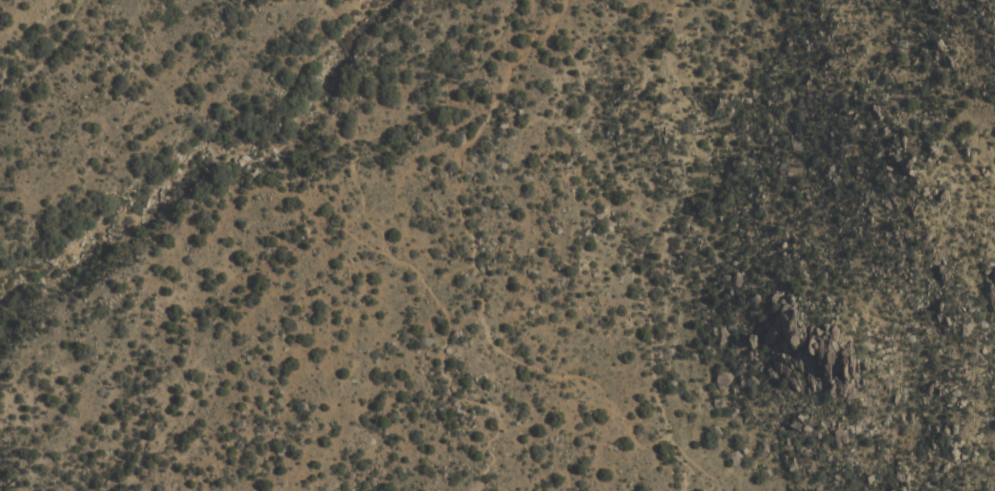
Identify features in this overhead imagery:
road: (352, 229)
park: (215, 263)
road: (482, 301)

